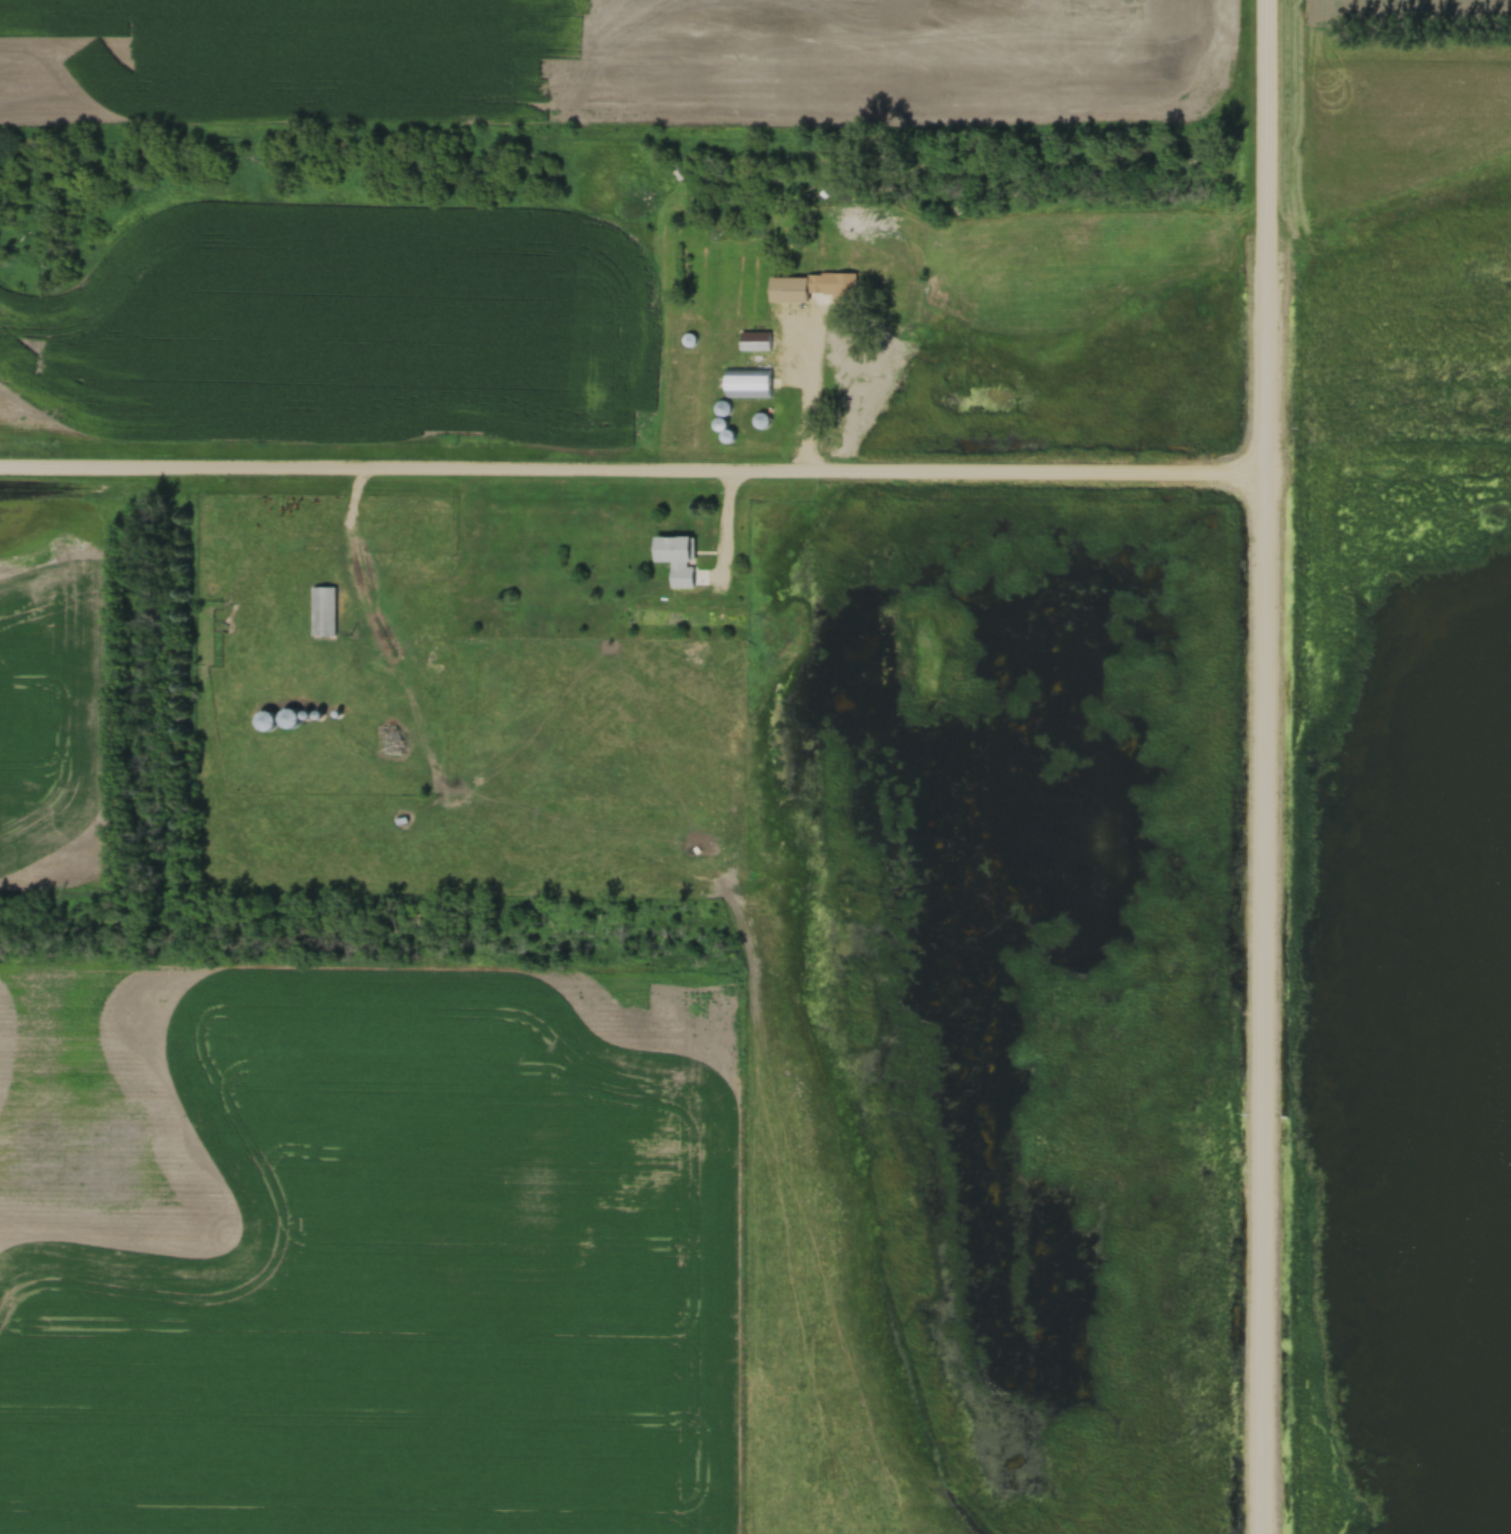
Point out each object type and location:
building: (830, 282)
building: (753, 339)
building: (746, 381)
road: (632, 474)
building: (675, 557)
building: (322, 608)
building: (288, 716)
building: (264, 718)
road: (1265, 767)

